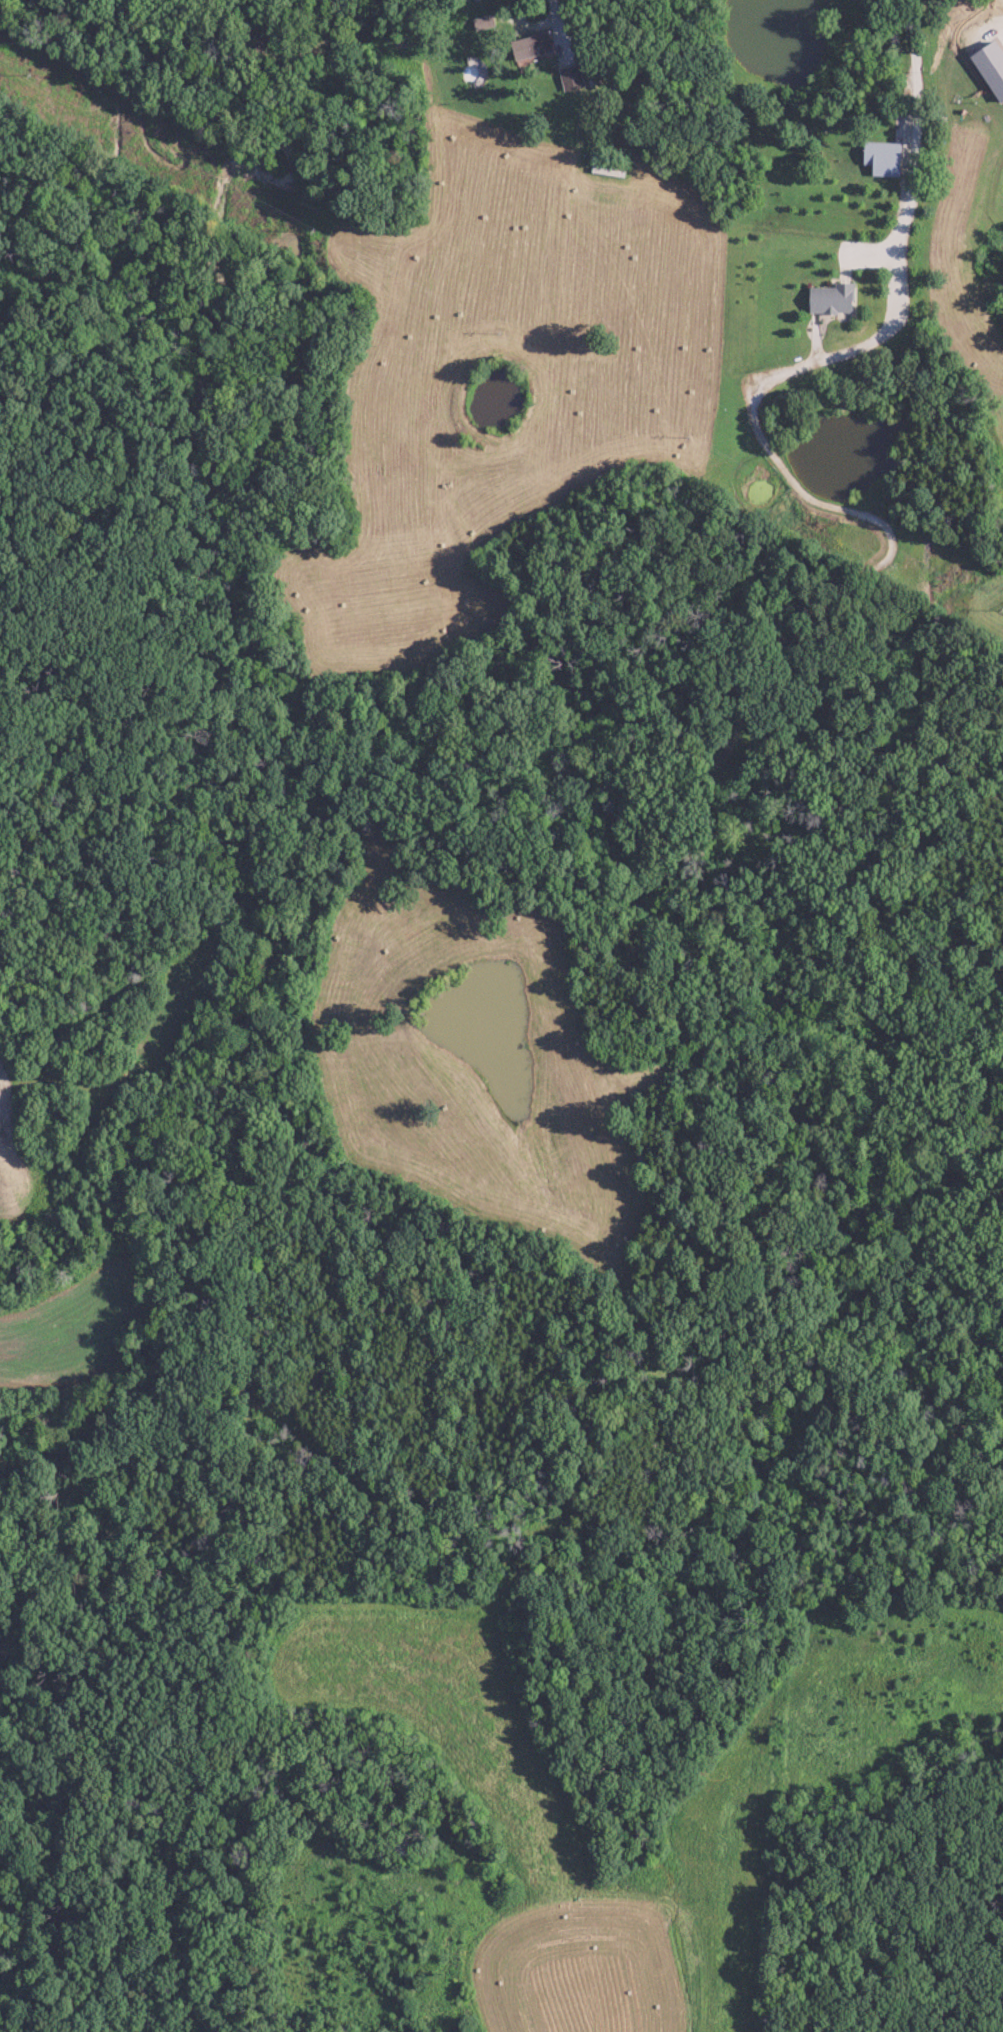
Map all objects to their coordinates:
building: (533, 45)
building: (993, 65)
building: (572, 77)
building: (885, 157)
building: (834, 298)

